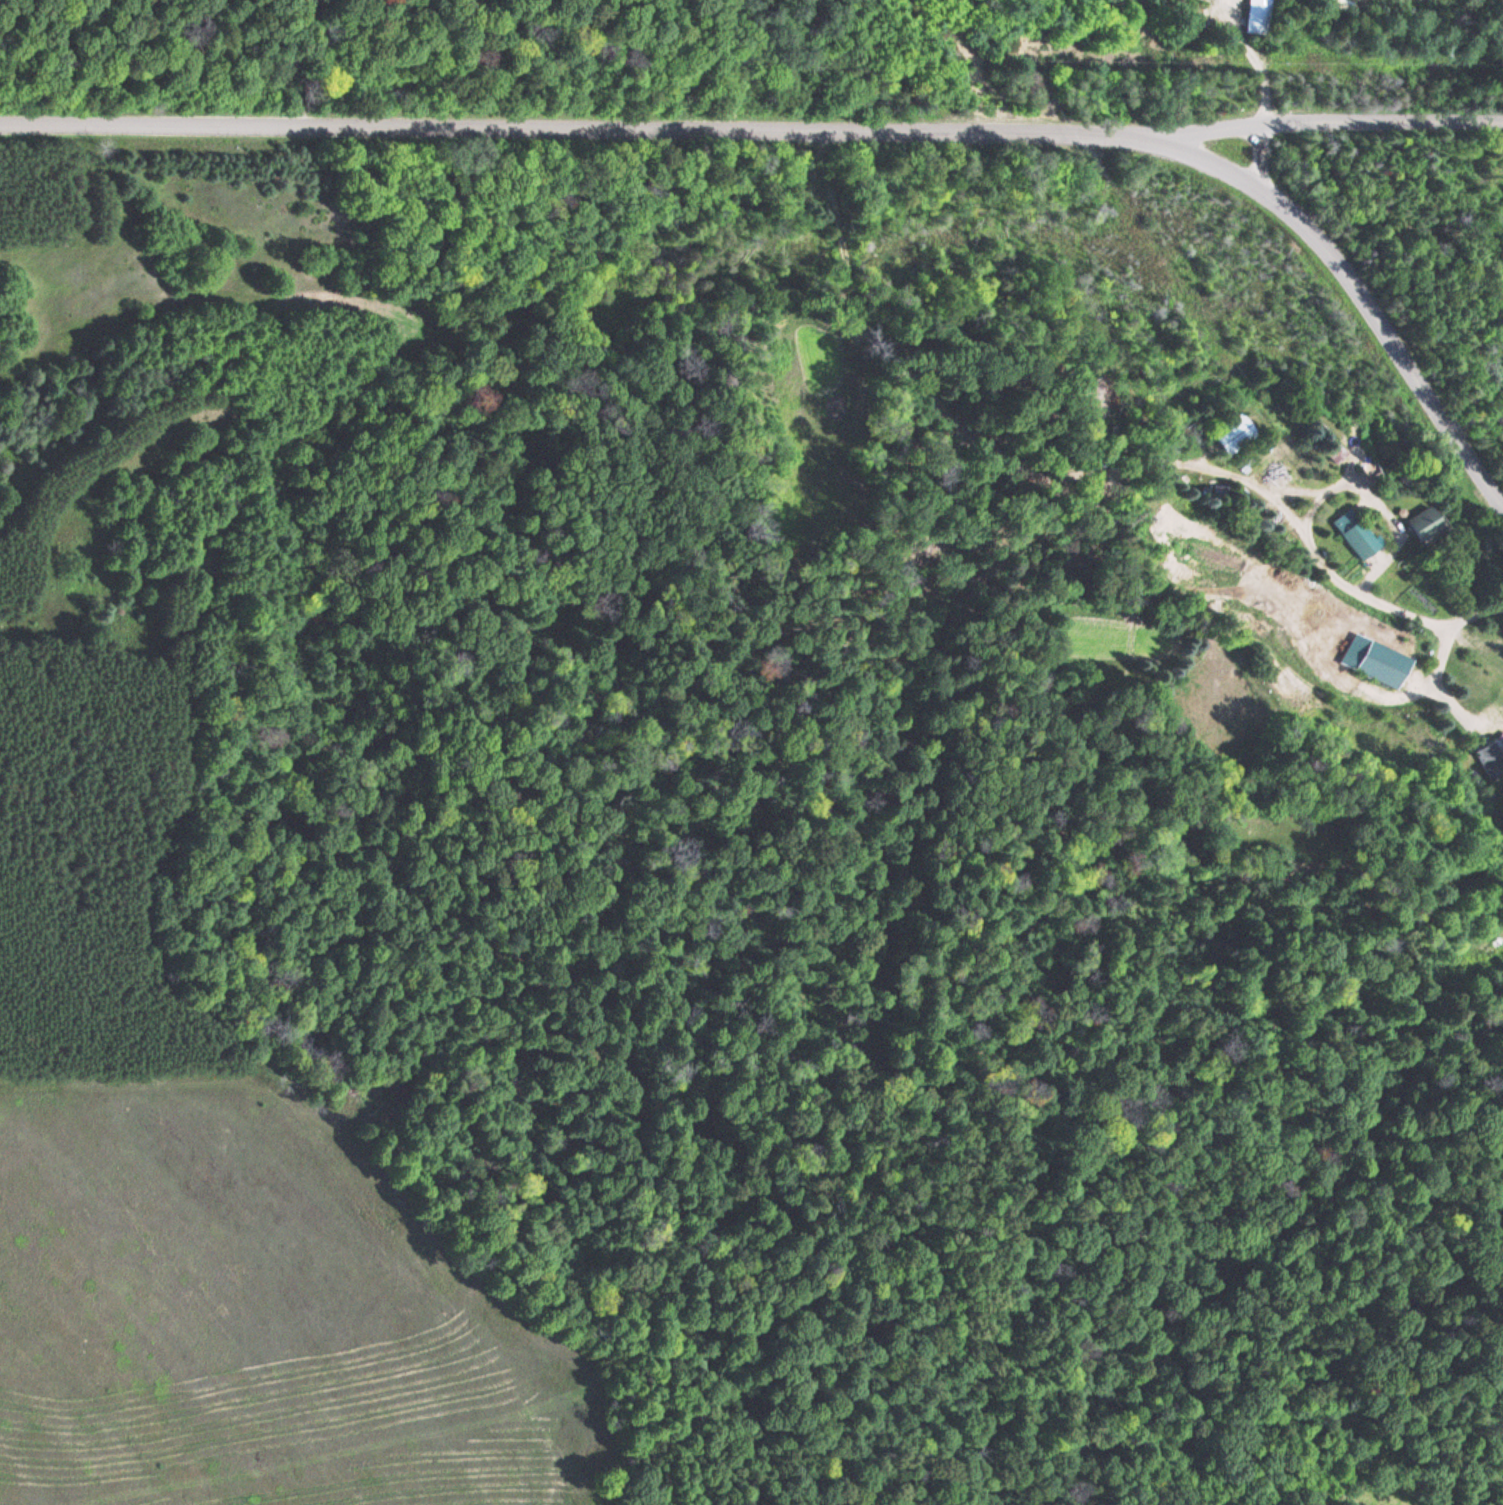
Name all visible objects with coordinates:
building: (1339, 4)
building: (1256, 17)
road: (1317, 124)
road: (840, 126)
building: (1232, 434)
building: (1189, 437)
building: (1333, 452)
building: (1222, 494)
building: (1422, 522)
building: (1356, 538)
building: (1374, 661)
building: (1489, 761)

